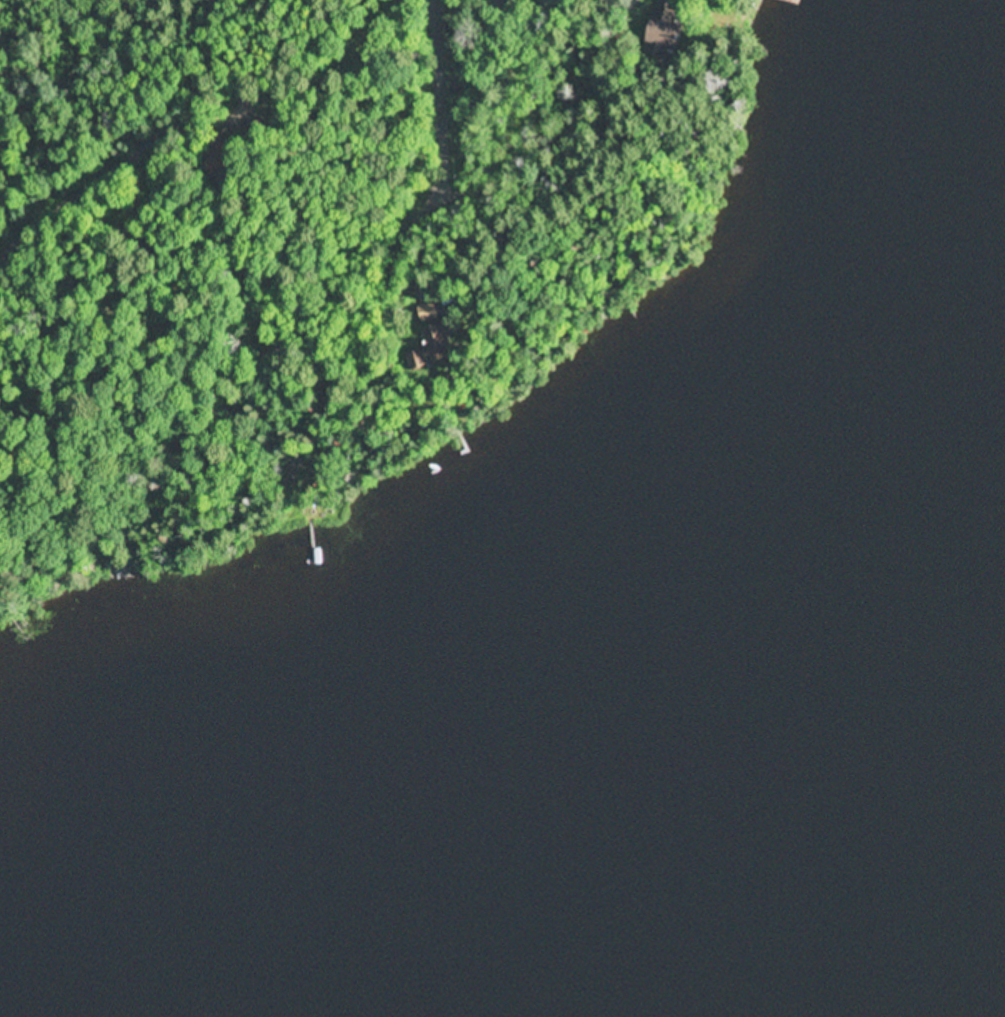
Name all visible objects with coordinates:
road: (445, 100)
road: (152, 120)

